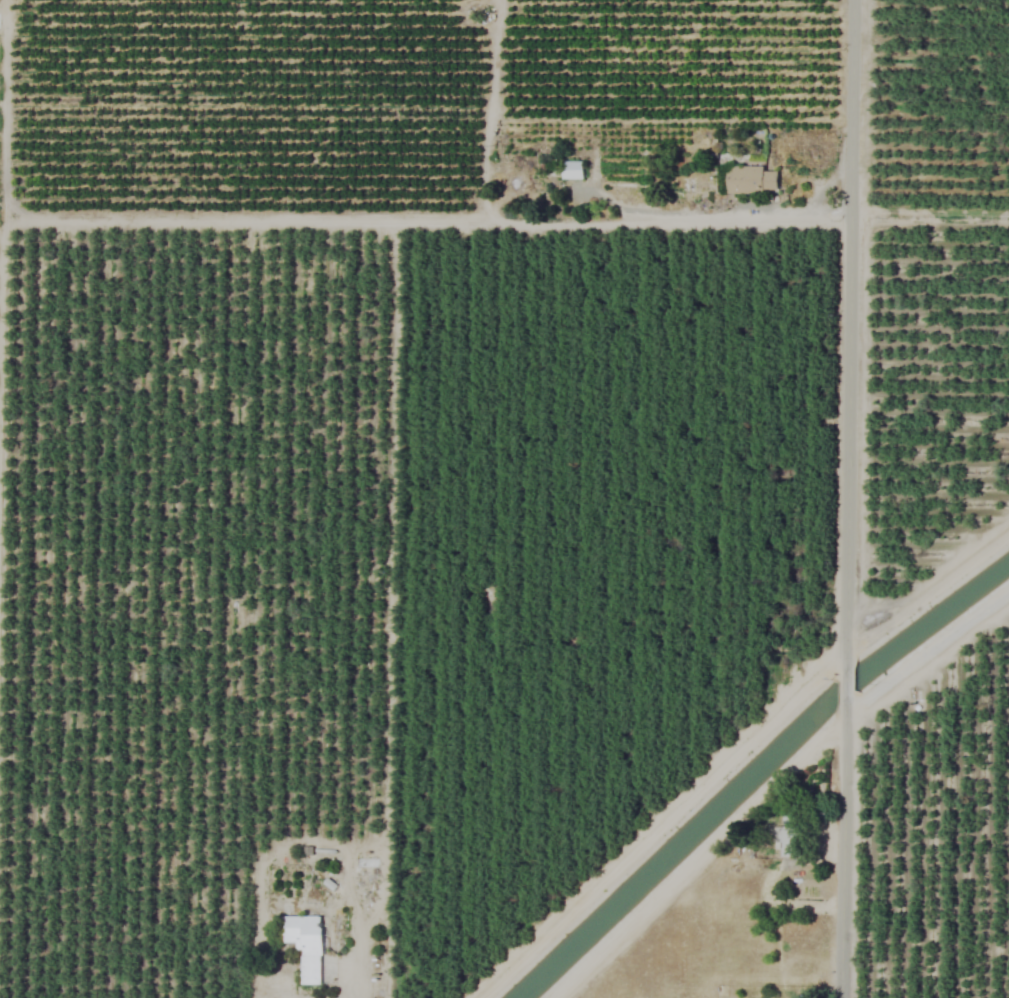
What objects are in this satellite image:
building: (572, 170)
building: (751, 180)
road: (826, 184)
road: (930, 212)
road: (683, 223)
road: (848, 498)
crop: (504, 499)
road: (927, 657)
building: (787, 836)
building: (304, 945)

